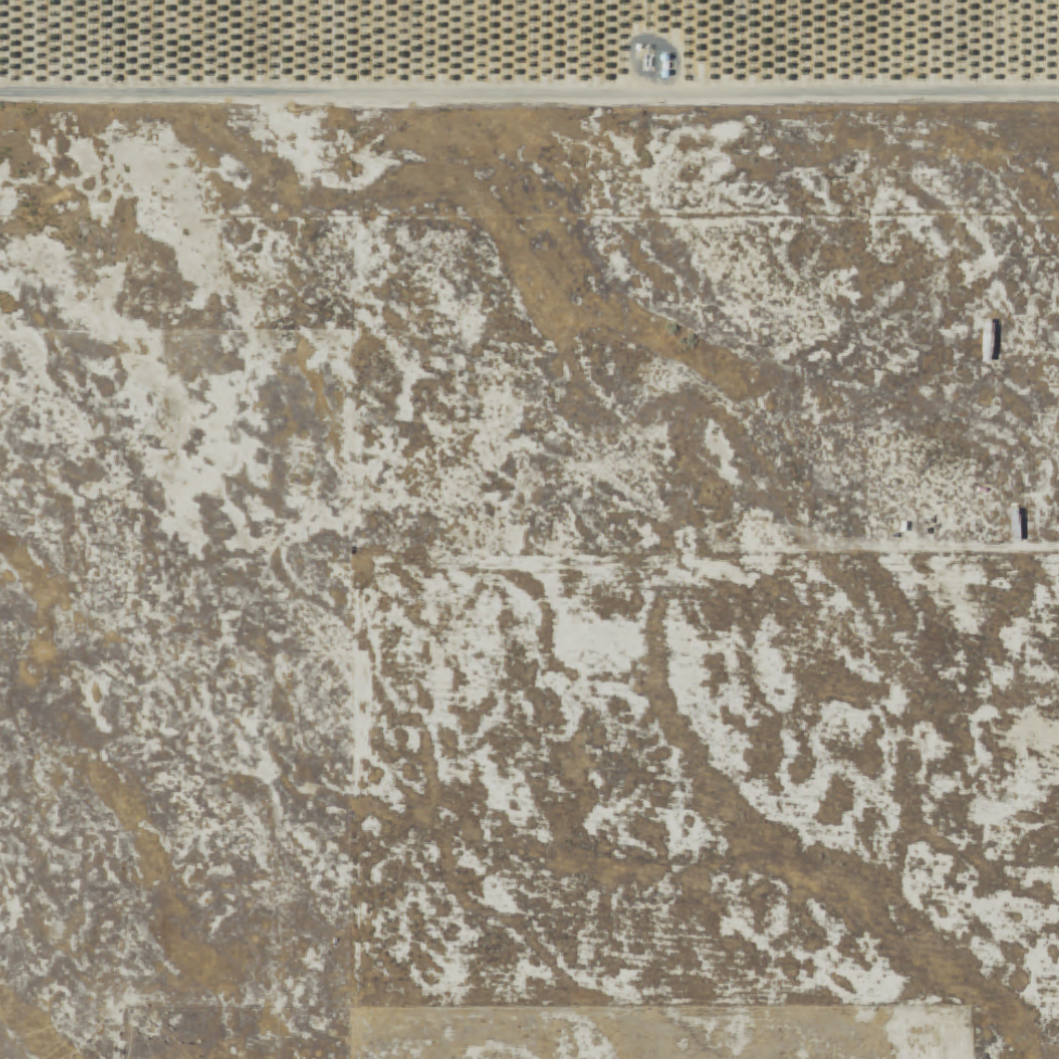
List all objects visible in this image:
road: (529, 93)

